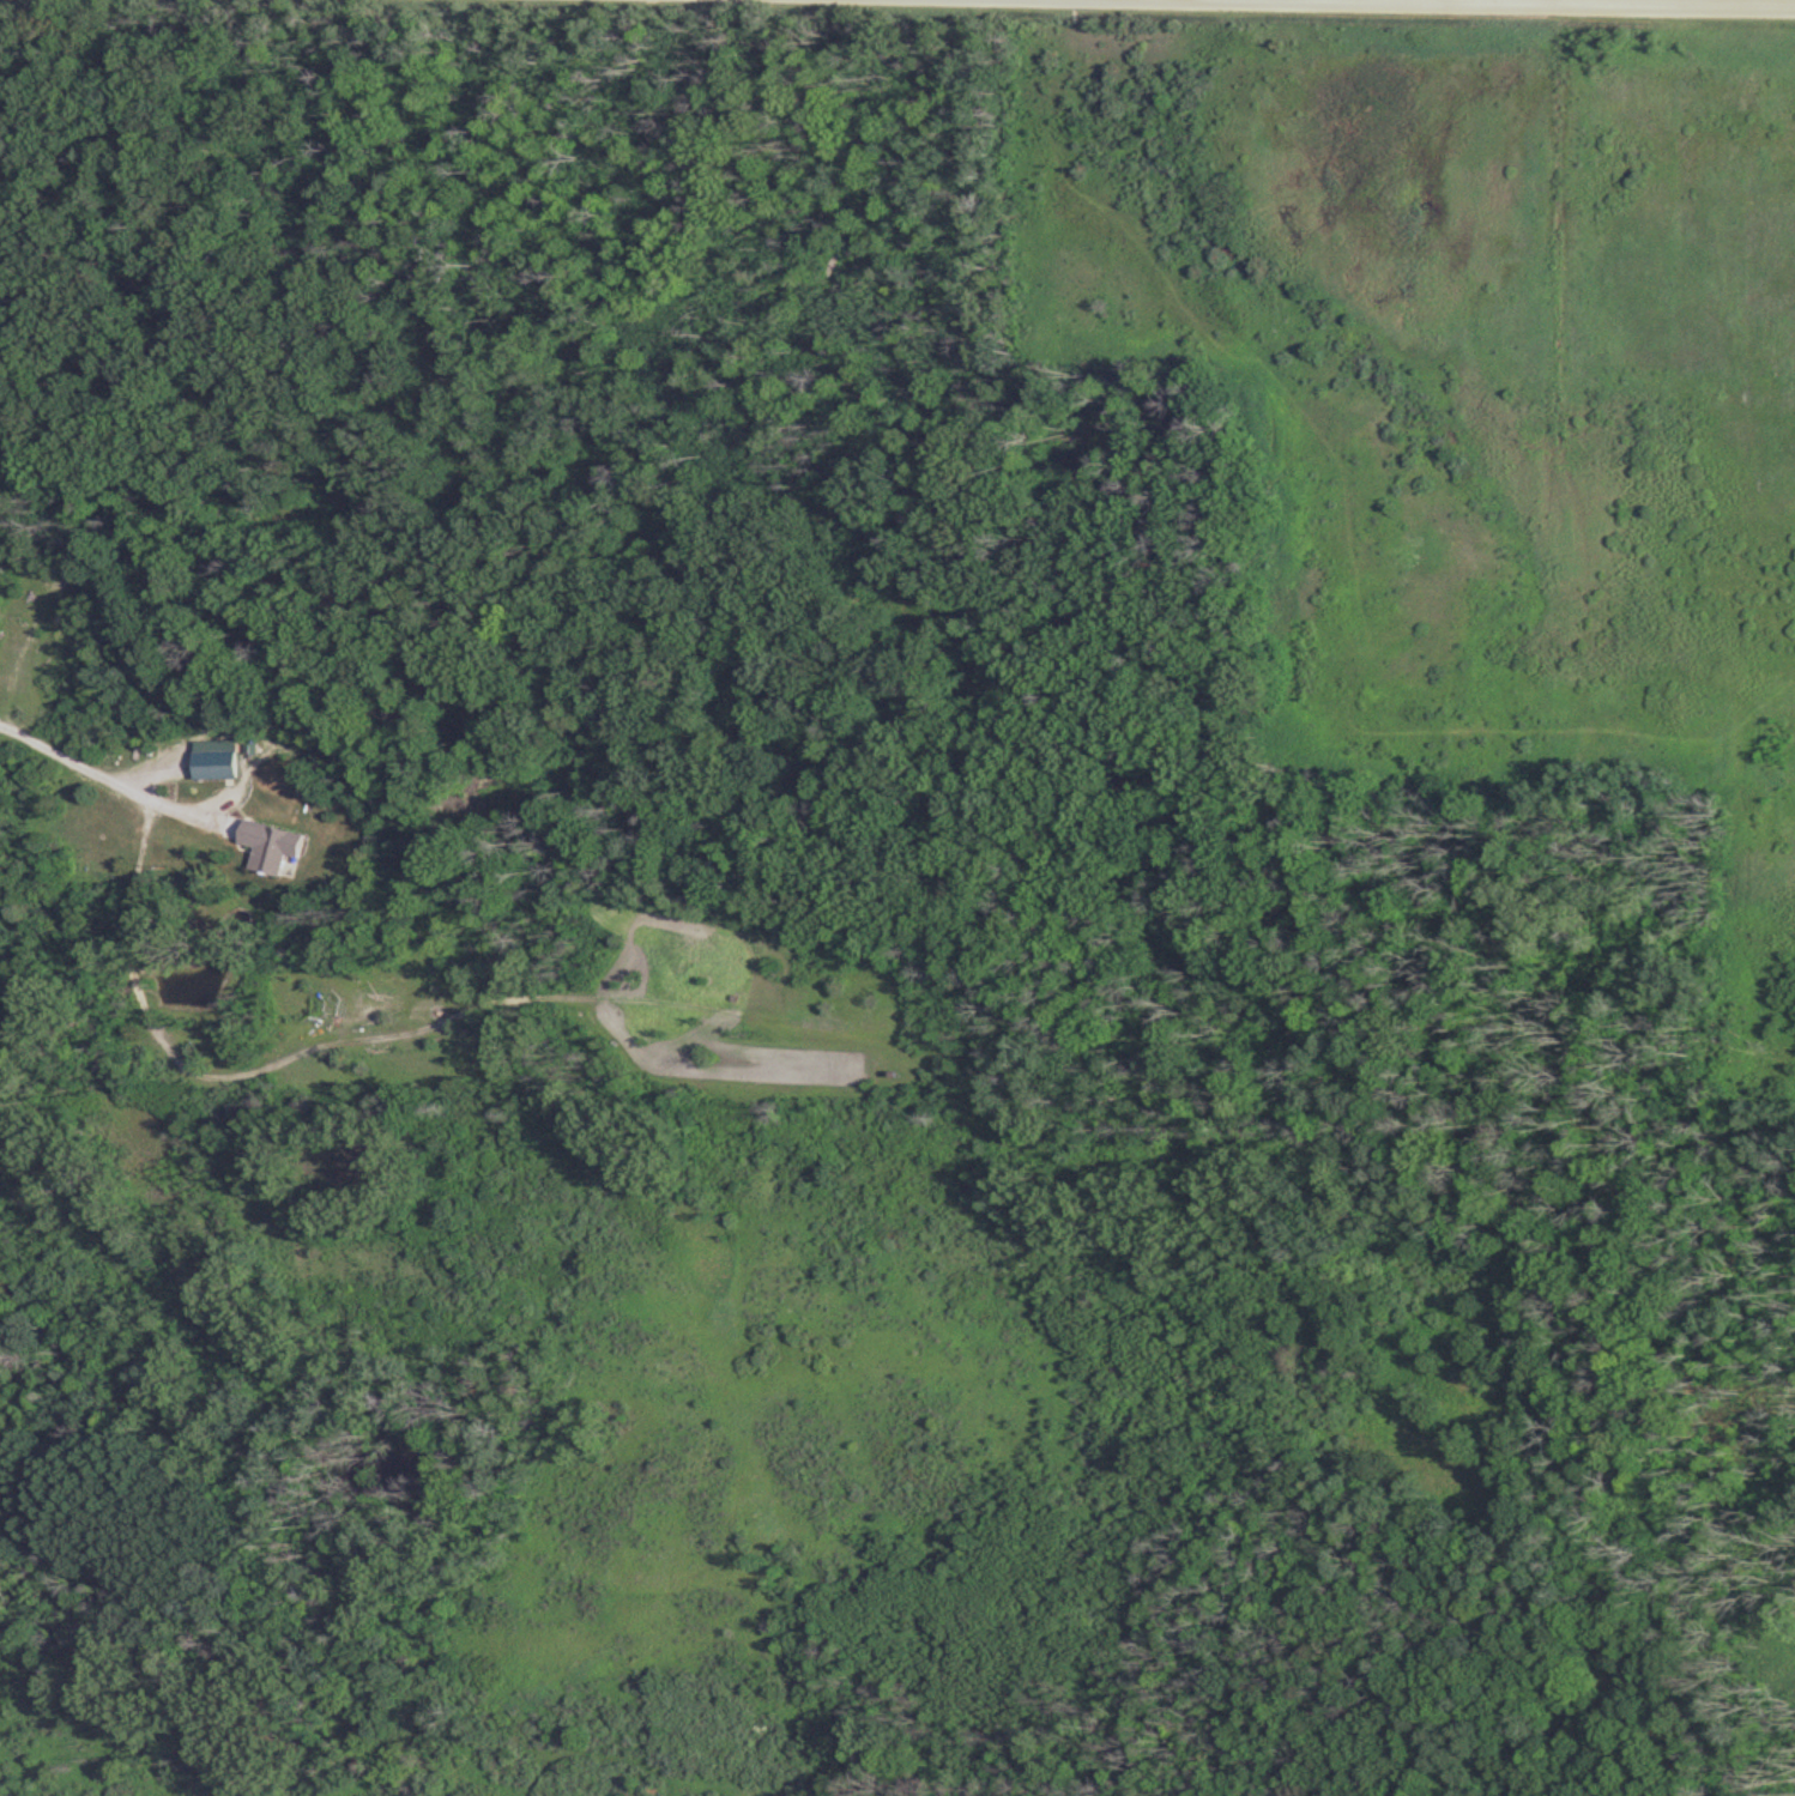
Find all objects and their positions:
road: (1595, 1)
road: (73, 761)
building: (217, 766)

